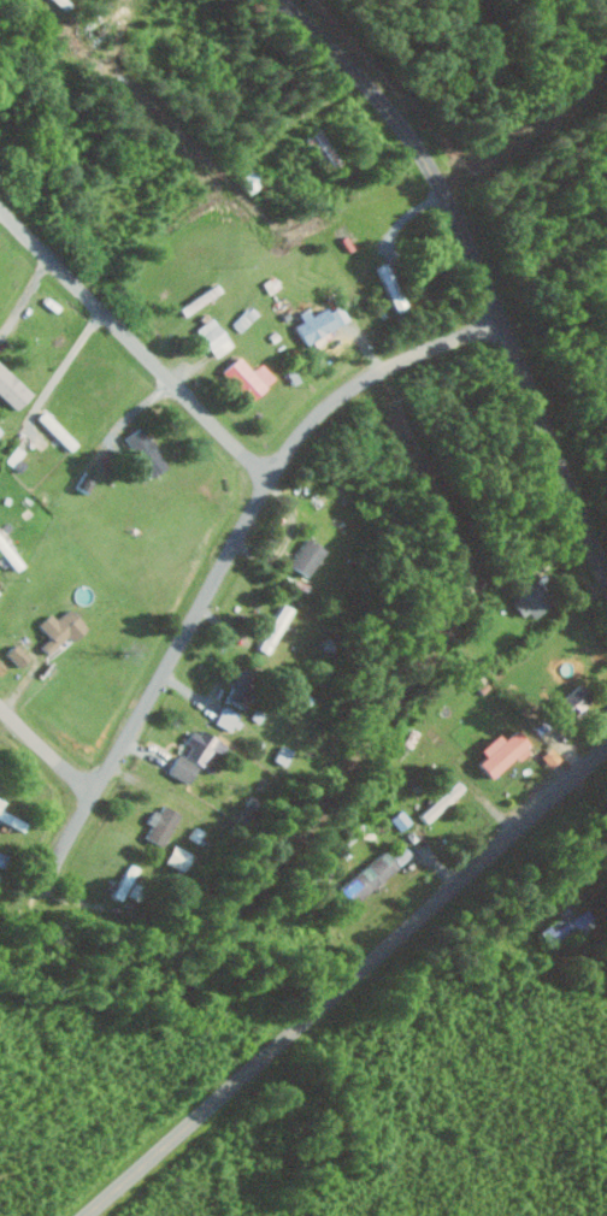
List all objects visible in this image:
road: (275, 2)
road: (470, 262)
building: (244, 318)
building: (324, 321)
building: (217, 336)
road: (136, 347)
road: (59, 373)
building: (251, 377)
building: (13, 386)
building: (149, 450)
building: (310, 556)
road: (228, 561)
building: (536, 600)
building: (278, 627)
building: (65, 628)
building: (22, 654)
building: (579, 700)
building: (230, 716)
building: (206, 745)
building: (506, 751)
road: (46, 752)
building: (287, 754)
building: (554, 756)
building: (187, 768)
building: (444, 802)
building: (10, 814)
building: (403, 819)
building: (164, 824)
building: (405, 854)
building: (181, 857)
building: (372, 875)
building: (565, 927)
road: (347, 982)

